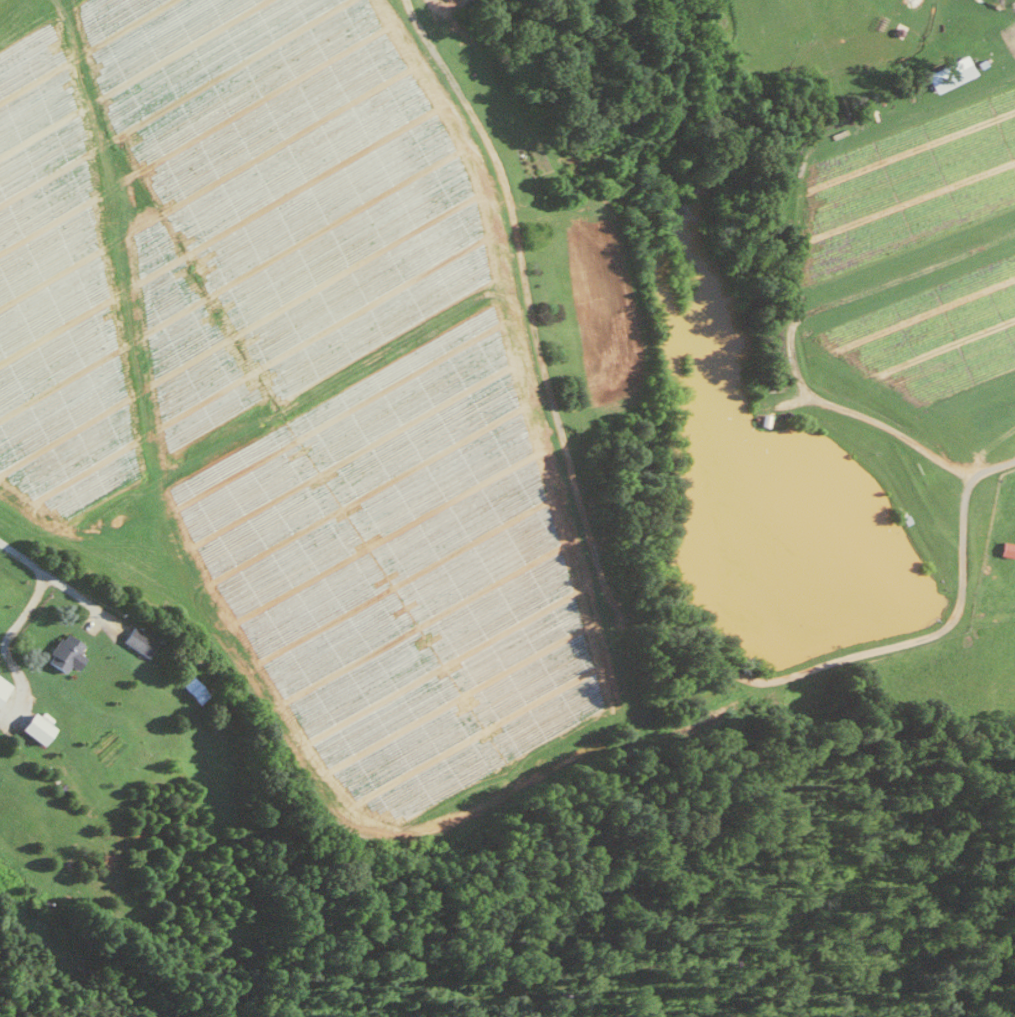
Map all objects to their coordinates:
road: (49, 577)
building: (135, 640)
road: (3, 643)
building: (62, 652)
building: (2, 683)
building: (193, 689)
building: (32, 727)

